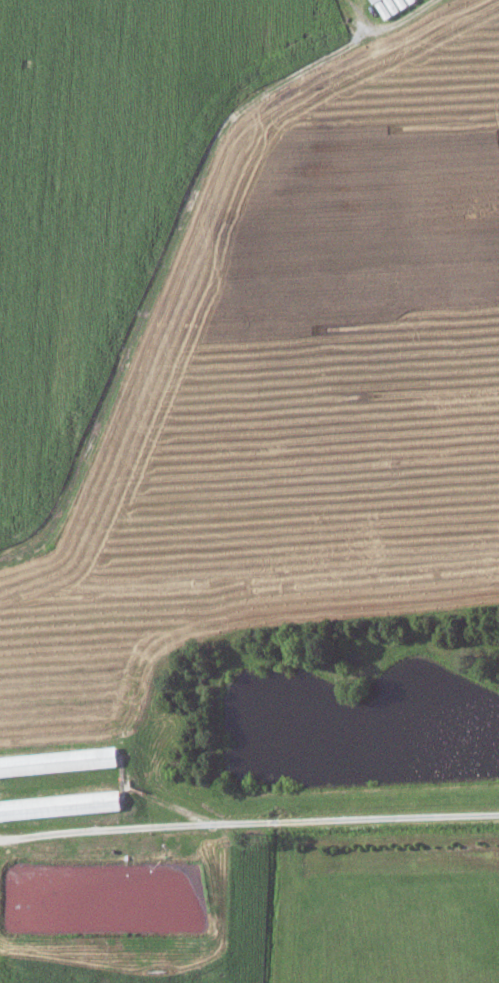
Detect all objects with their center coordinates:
building: (393, 6)
road: (382, 26)
building: (59, 762)
building: (61, 805)
road: (249, 817)

